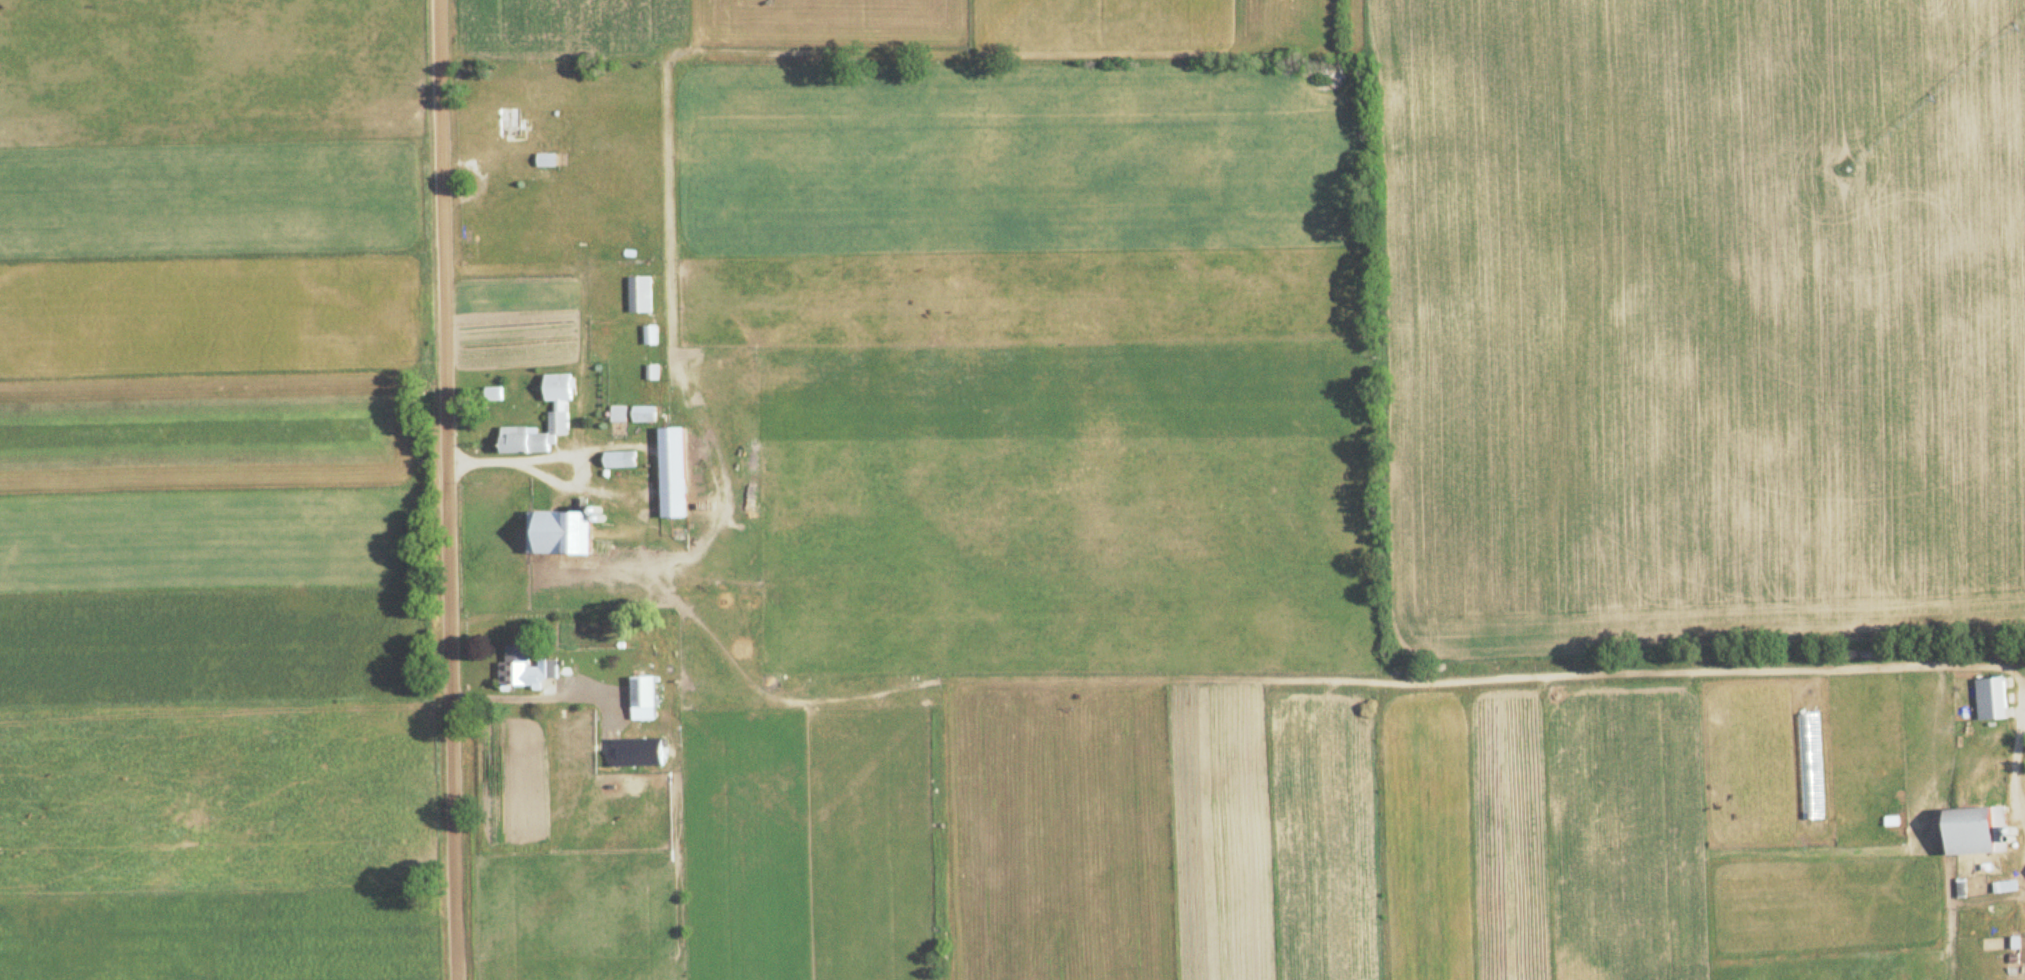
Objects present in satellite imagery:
building: (505, 122)
building: (543, 160)
building: (497, 179)
building: (637, 294)
building: (647, 334)
building: (616, 413)
building: (641, 414)
building: (531, 436)
building: (670, 472)
road: (448, 490)
building: (557, 533)
building: (522, 669)
building: (641, 697)
building: (1988, 698)
road: (2017, 774)
building: (1973, 830)

